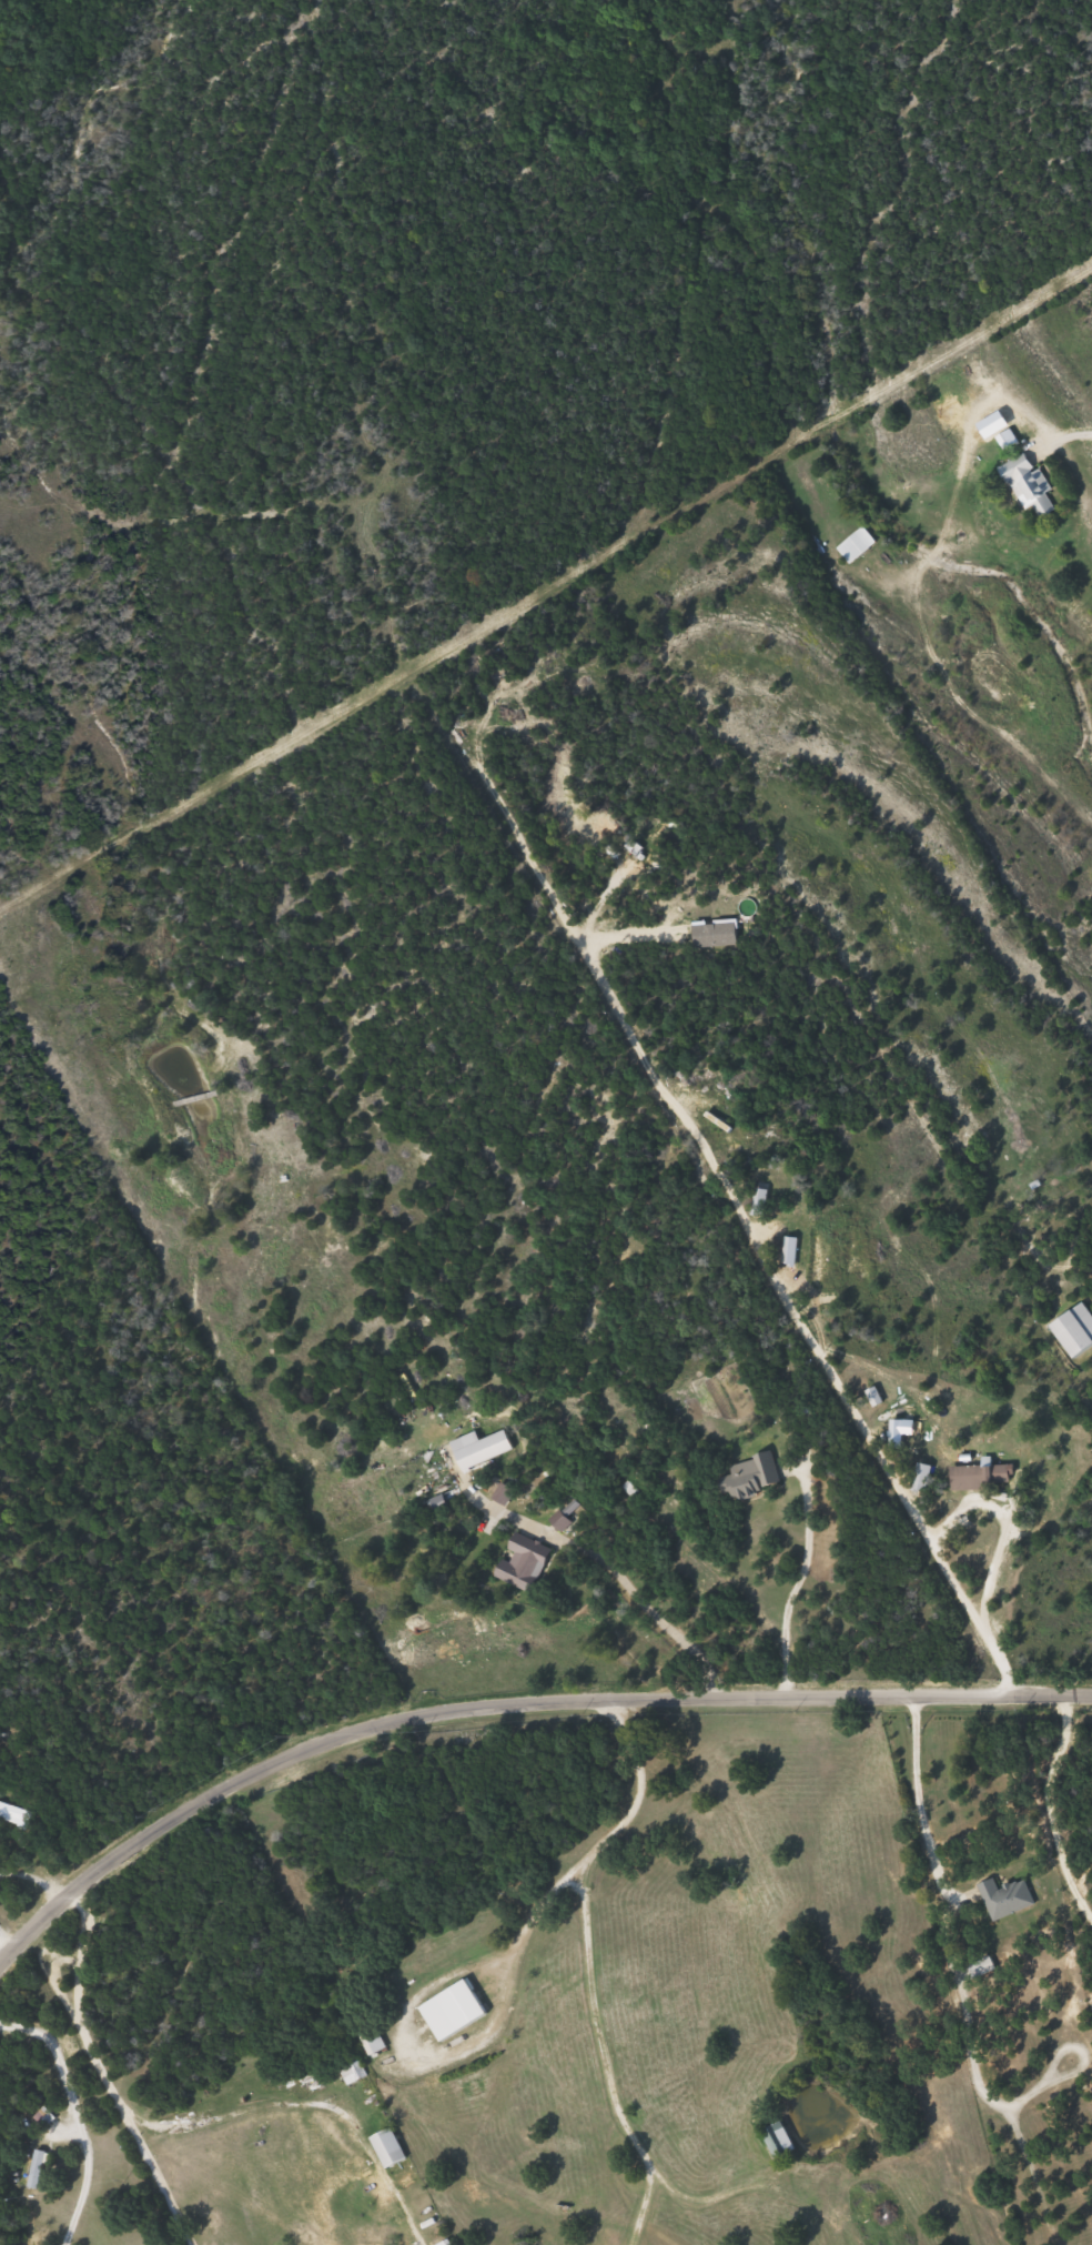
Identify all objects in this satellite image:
road: (1065, 433)
building: (1022, 484)
building: (852, 544)
road: (545, 592)
road: (627, 1027)
building: (781, 1228)
building: (1072, 1330)
building: (476, 1449)
road: (888, 1476)
building: (745, 1477)
building: (967, 1478)
building: (499, 1494)
building: (516, 1566)
road: (618, 1573)
road: (795, 1585)
road: (506, 1708)
road: (918, 1801)
building: (8, 1813)
road: (33, 1877)
building: (1002, 1896)
road: (3, 1950)
road: (587, 1965)
road: (74, 1999)
building: (448, 2010)
building: (367, 2037)
building: (346, 2066)
road: (300, 2101)
road: (78, 2116)
building: (772, 2138)
building: (384, 2146)
building: (31, 2168)
road: (150, 2173)

